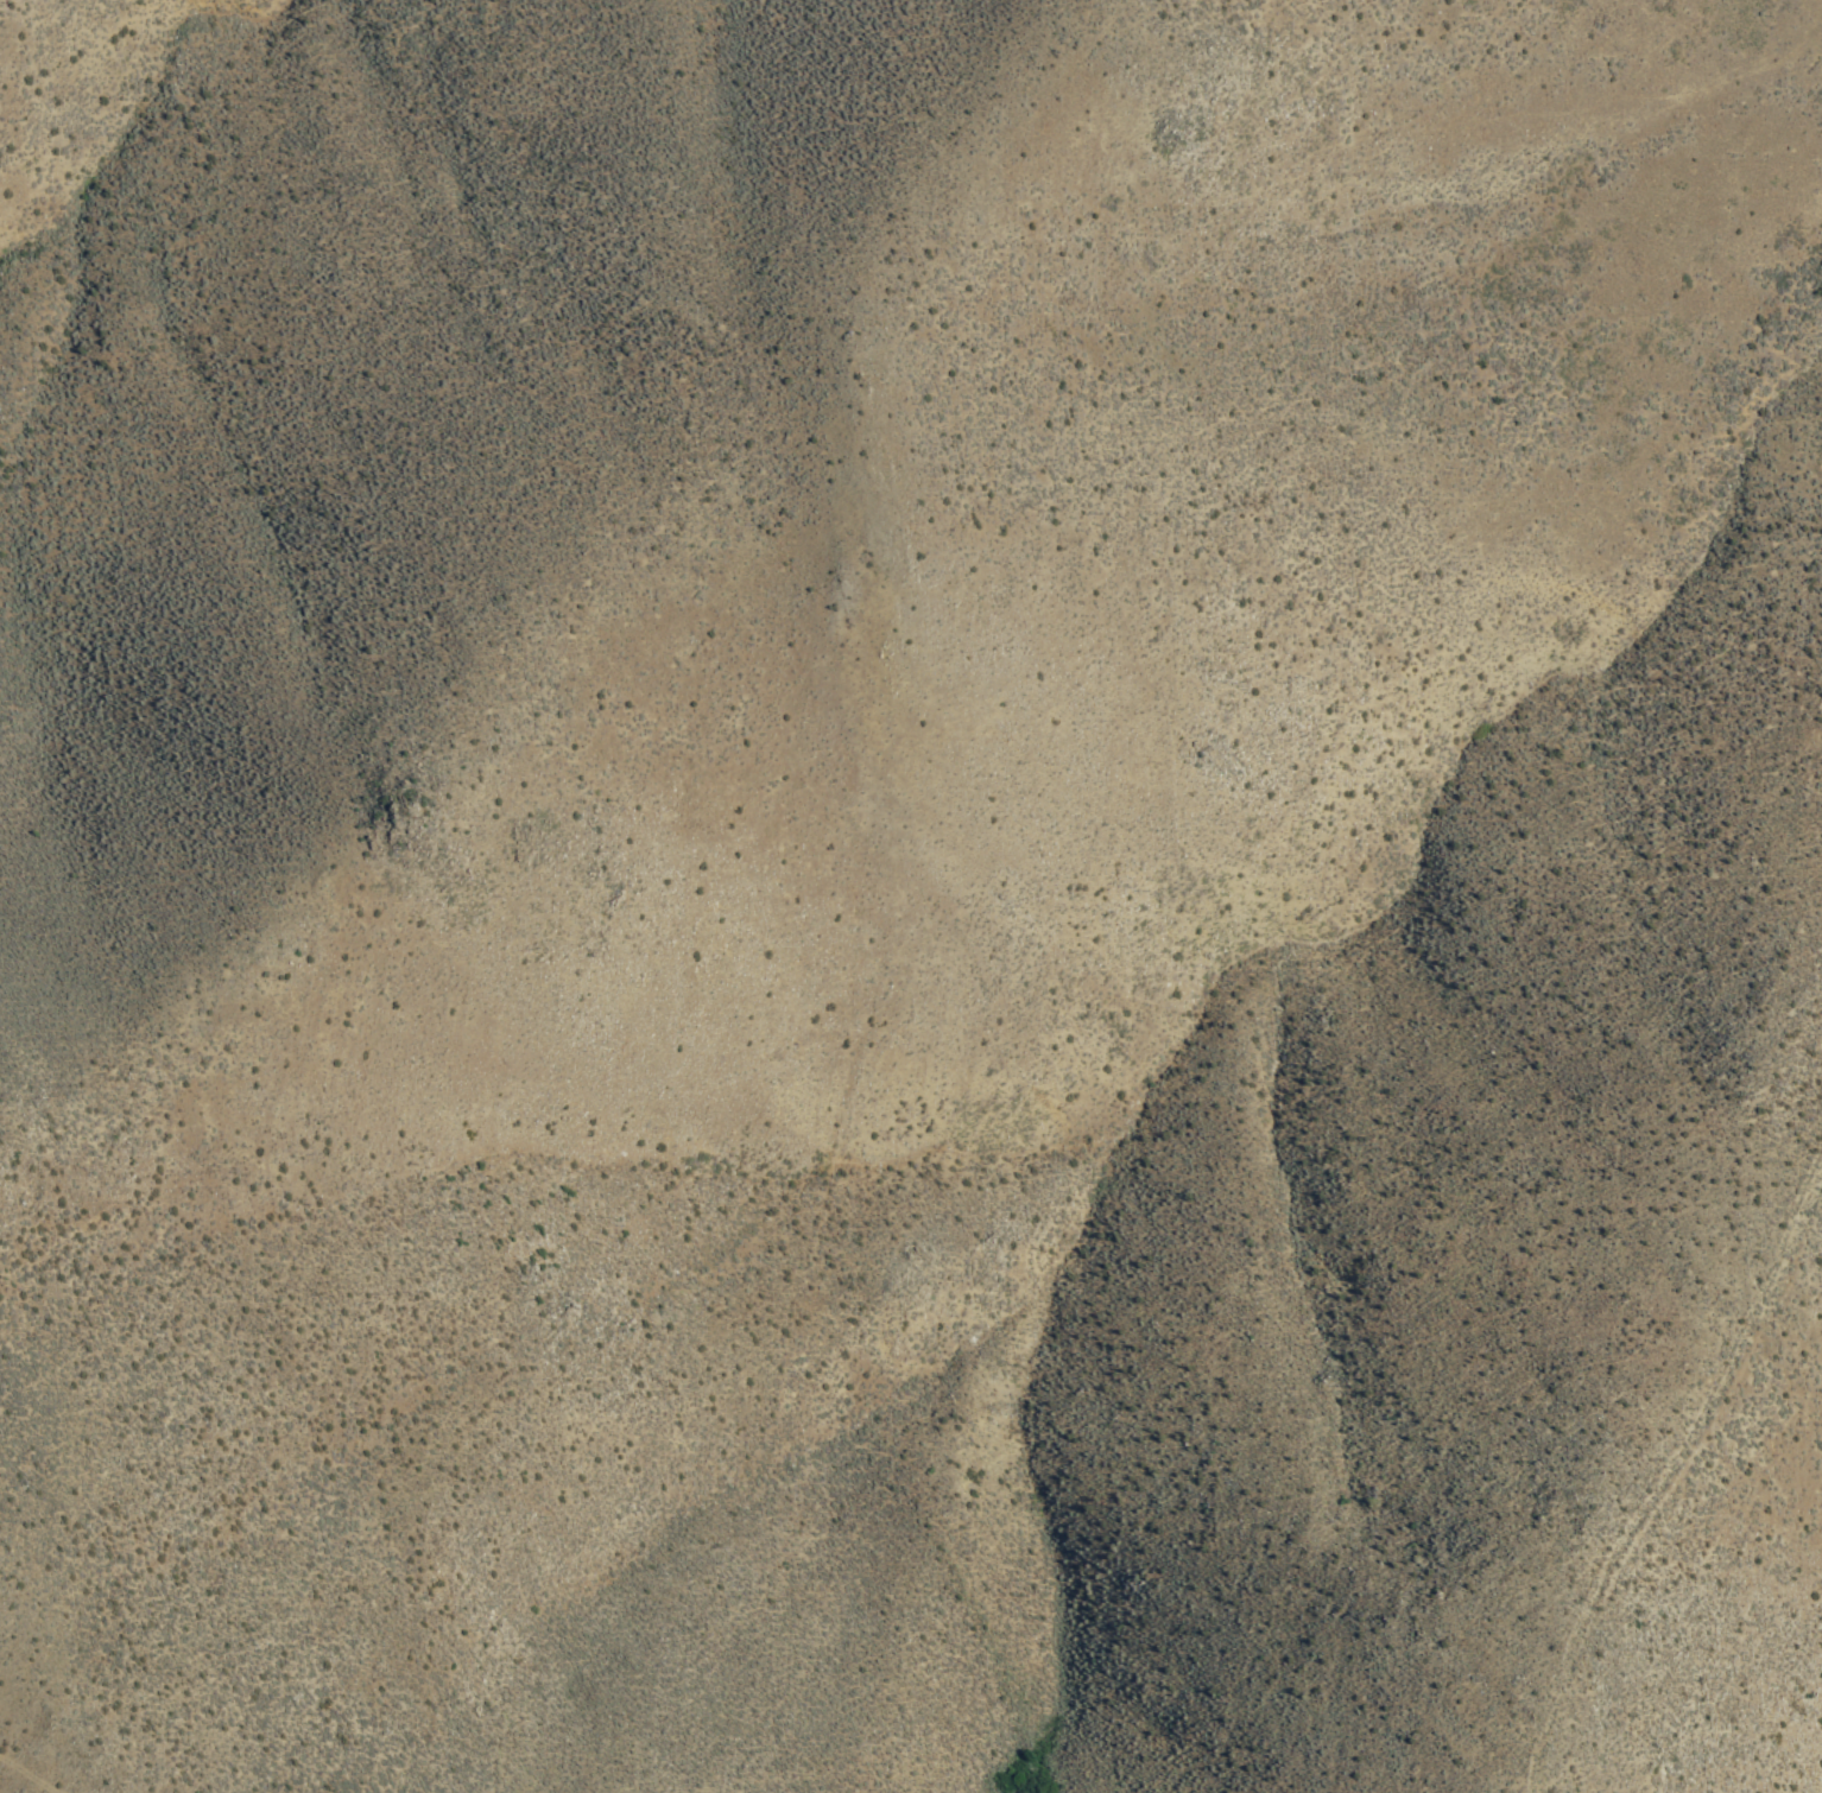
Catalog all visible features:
road: (32, 1772)

